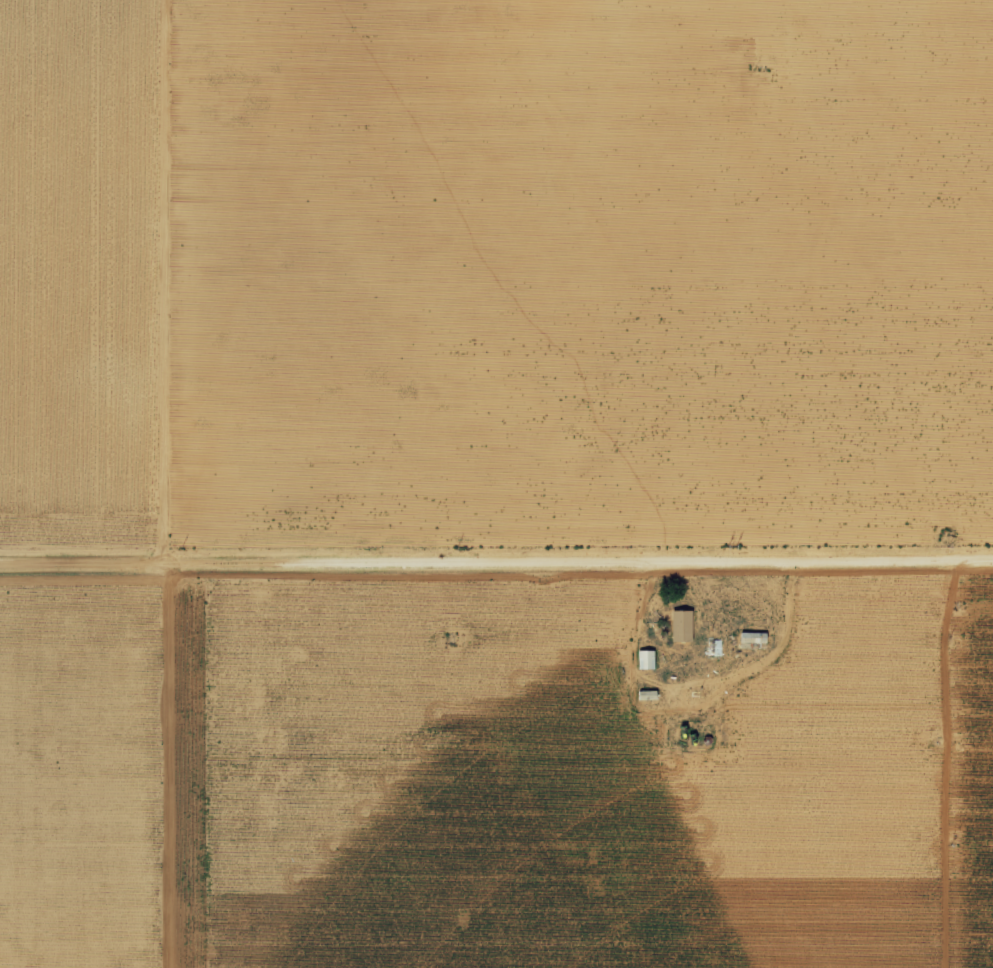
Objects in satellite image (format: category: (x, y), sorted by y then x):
road: (496, 564)

